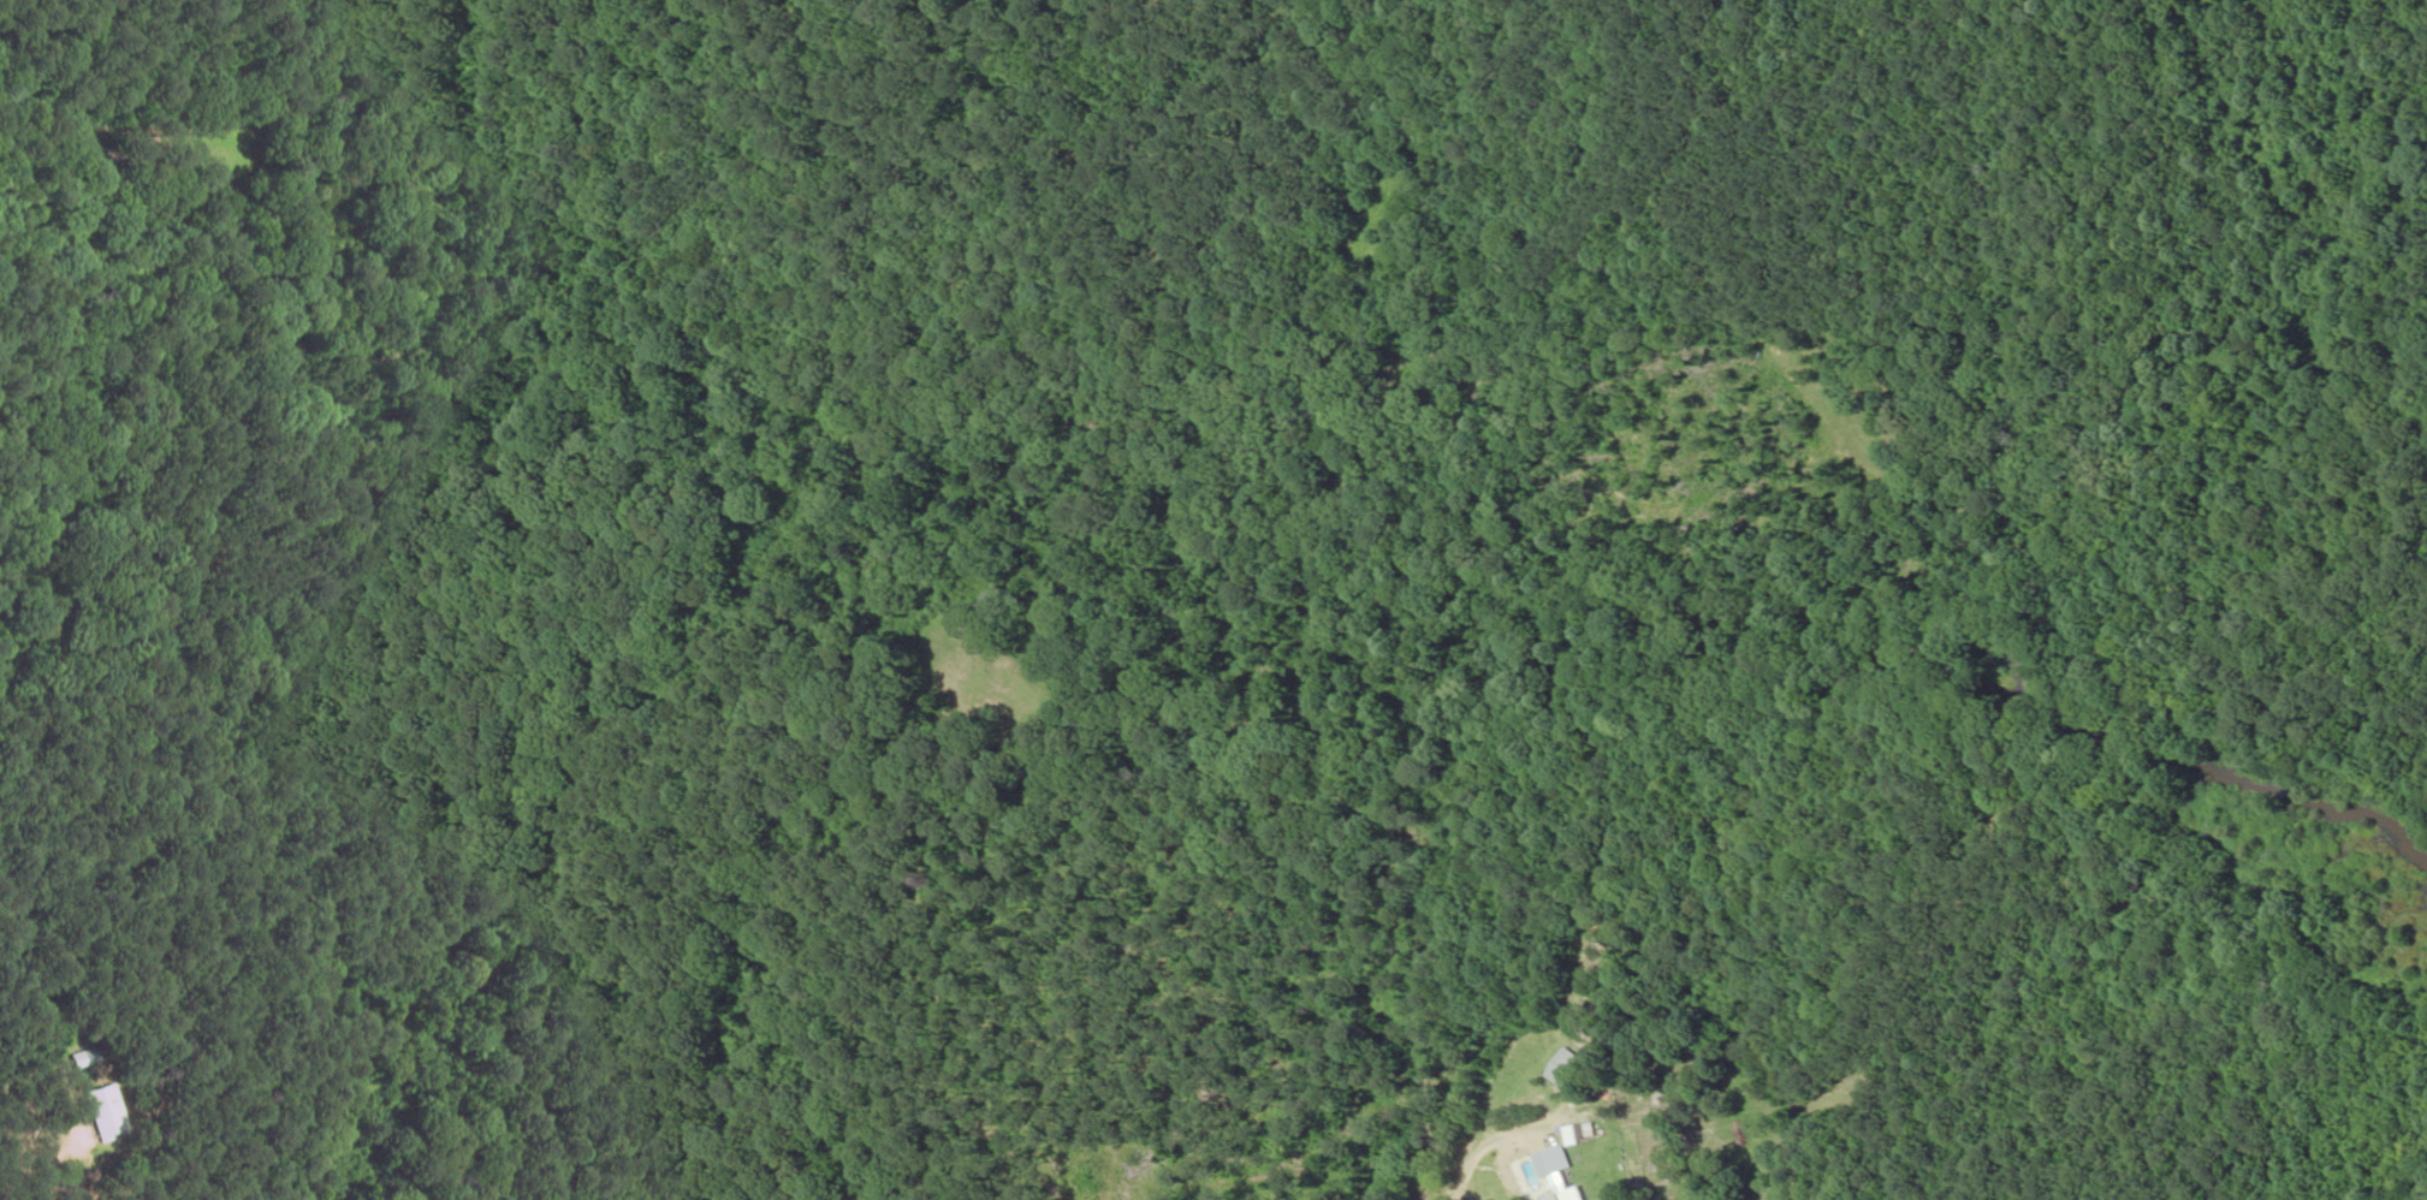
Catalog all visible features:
road: (189, 1027)
building: (1565, 1065)
building: (100, 1109)
building: (1579, 1131)
building: (1565, 1193)

